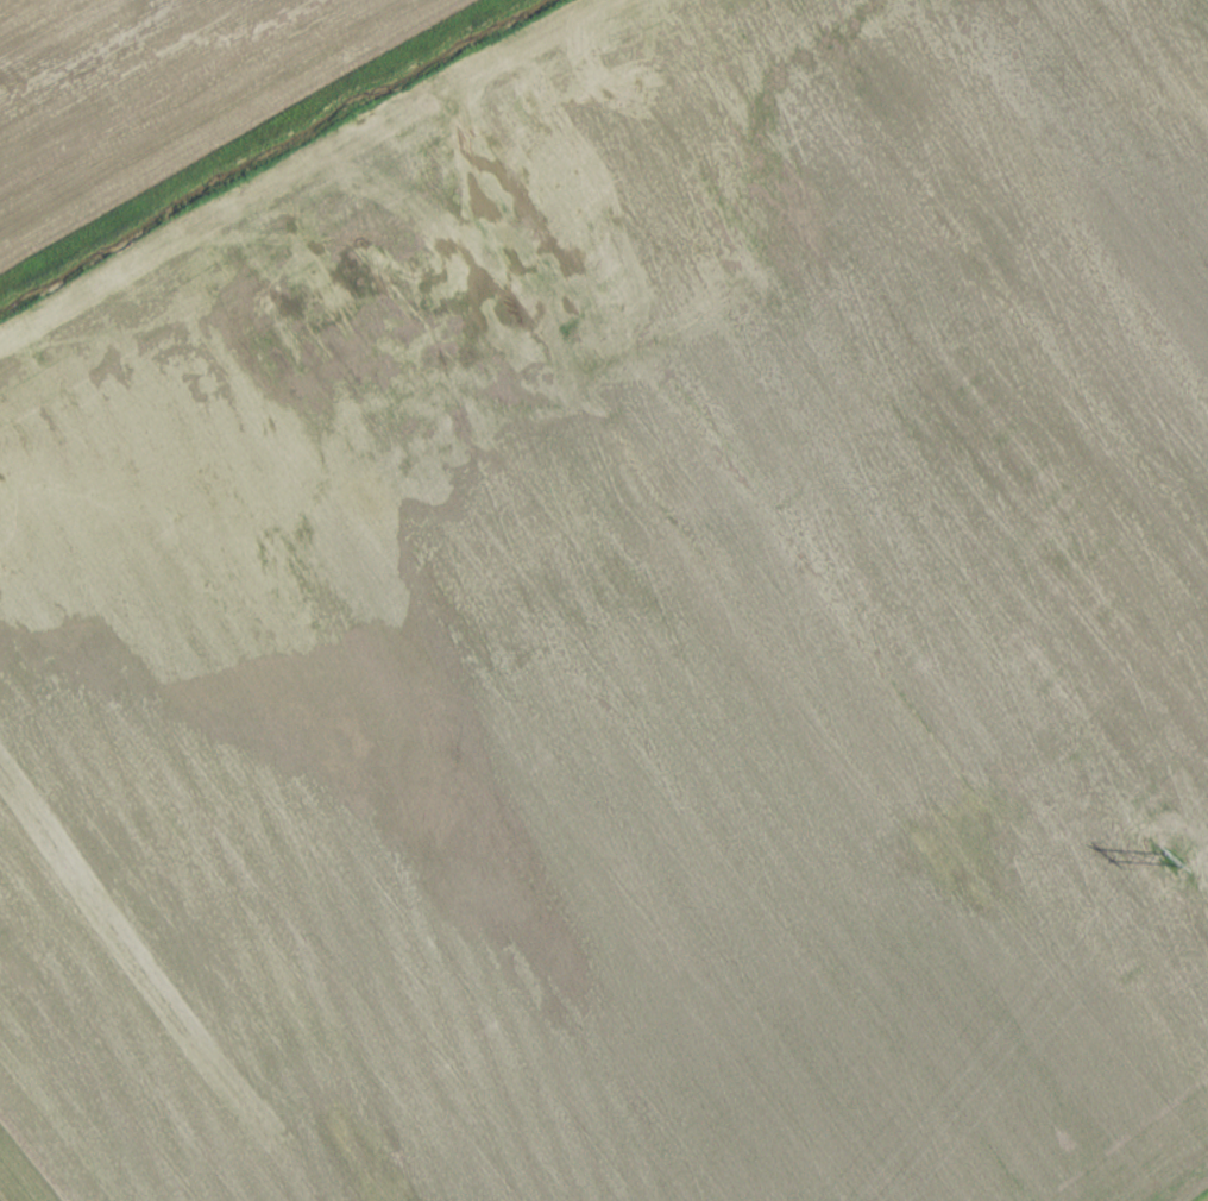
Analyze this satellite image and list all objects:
power tower: (1168, 868)

